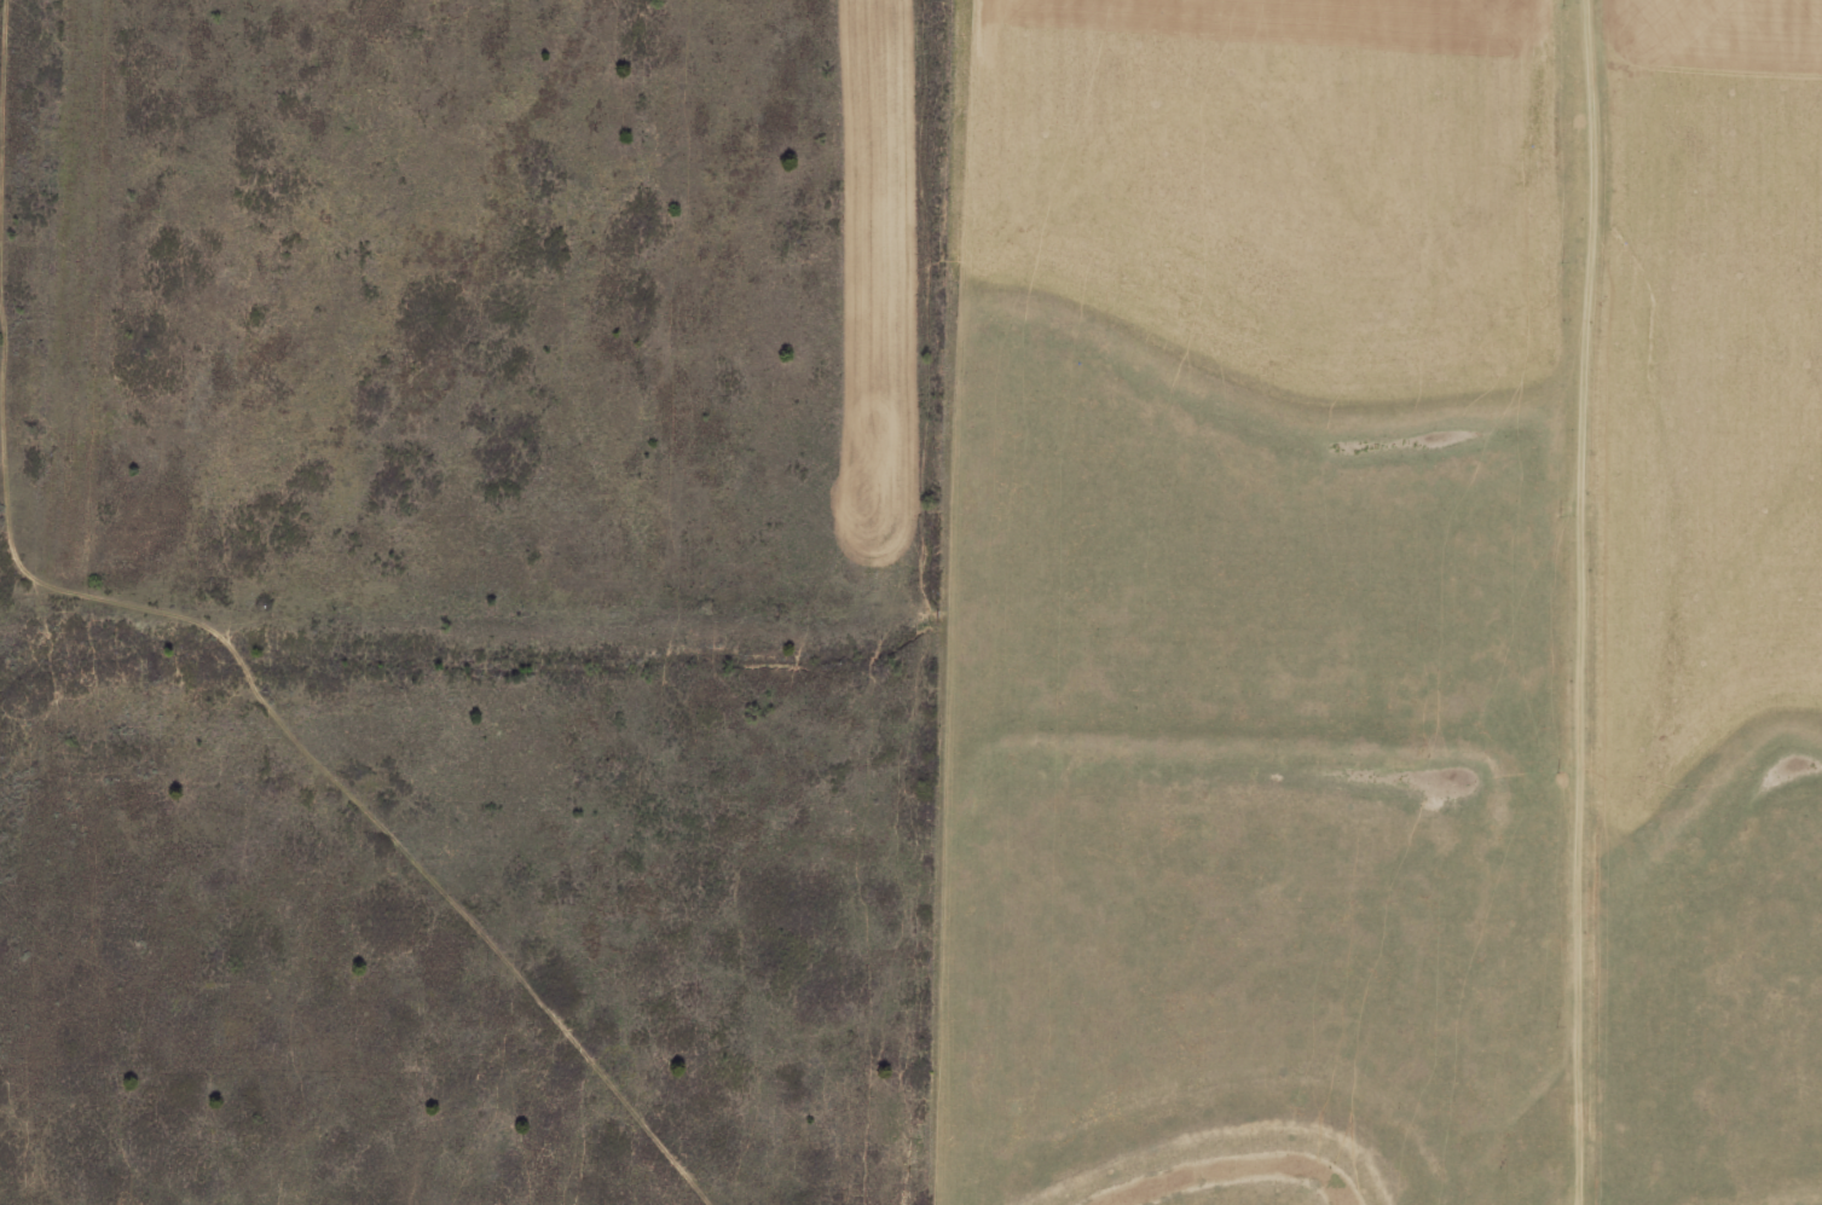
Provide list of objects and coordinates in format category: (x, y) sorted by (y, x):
road: (1587, 602)
road: (942, 604)

